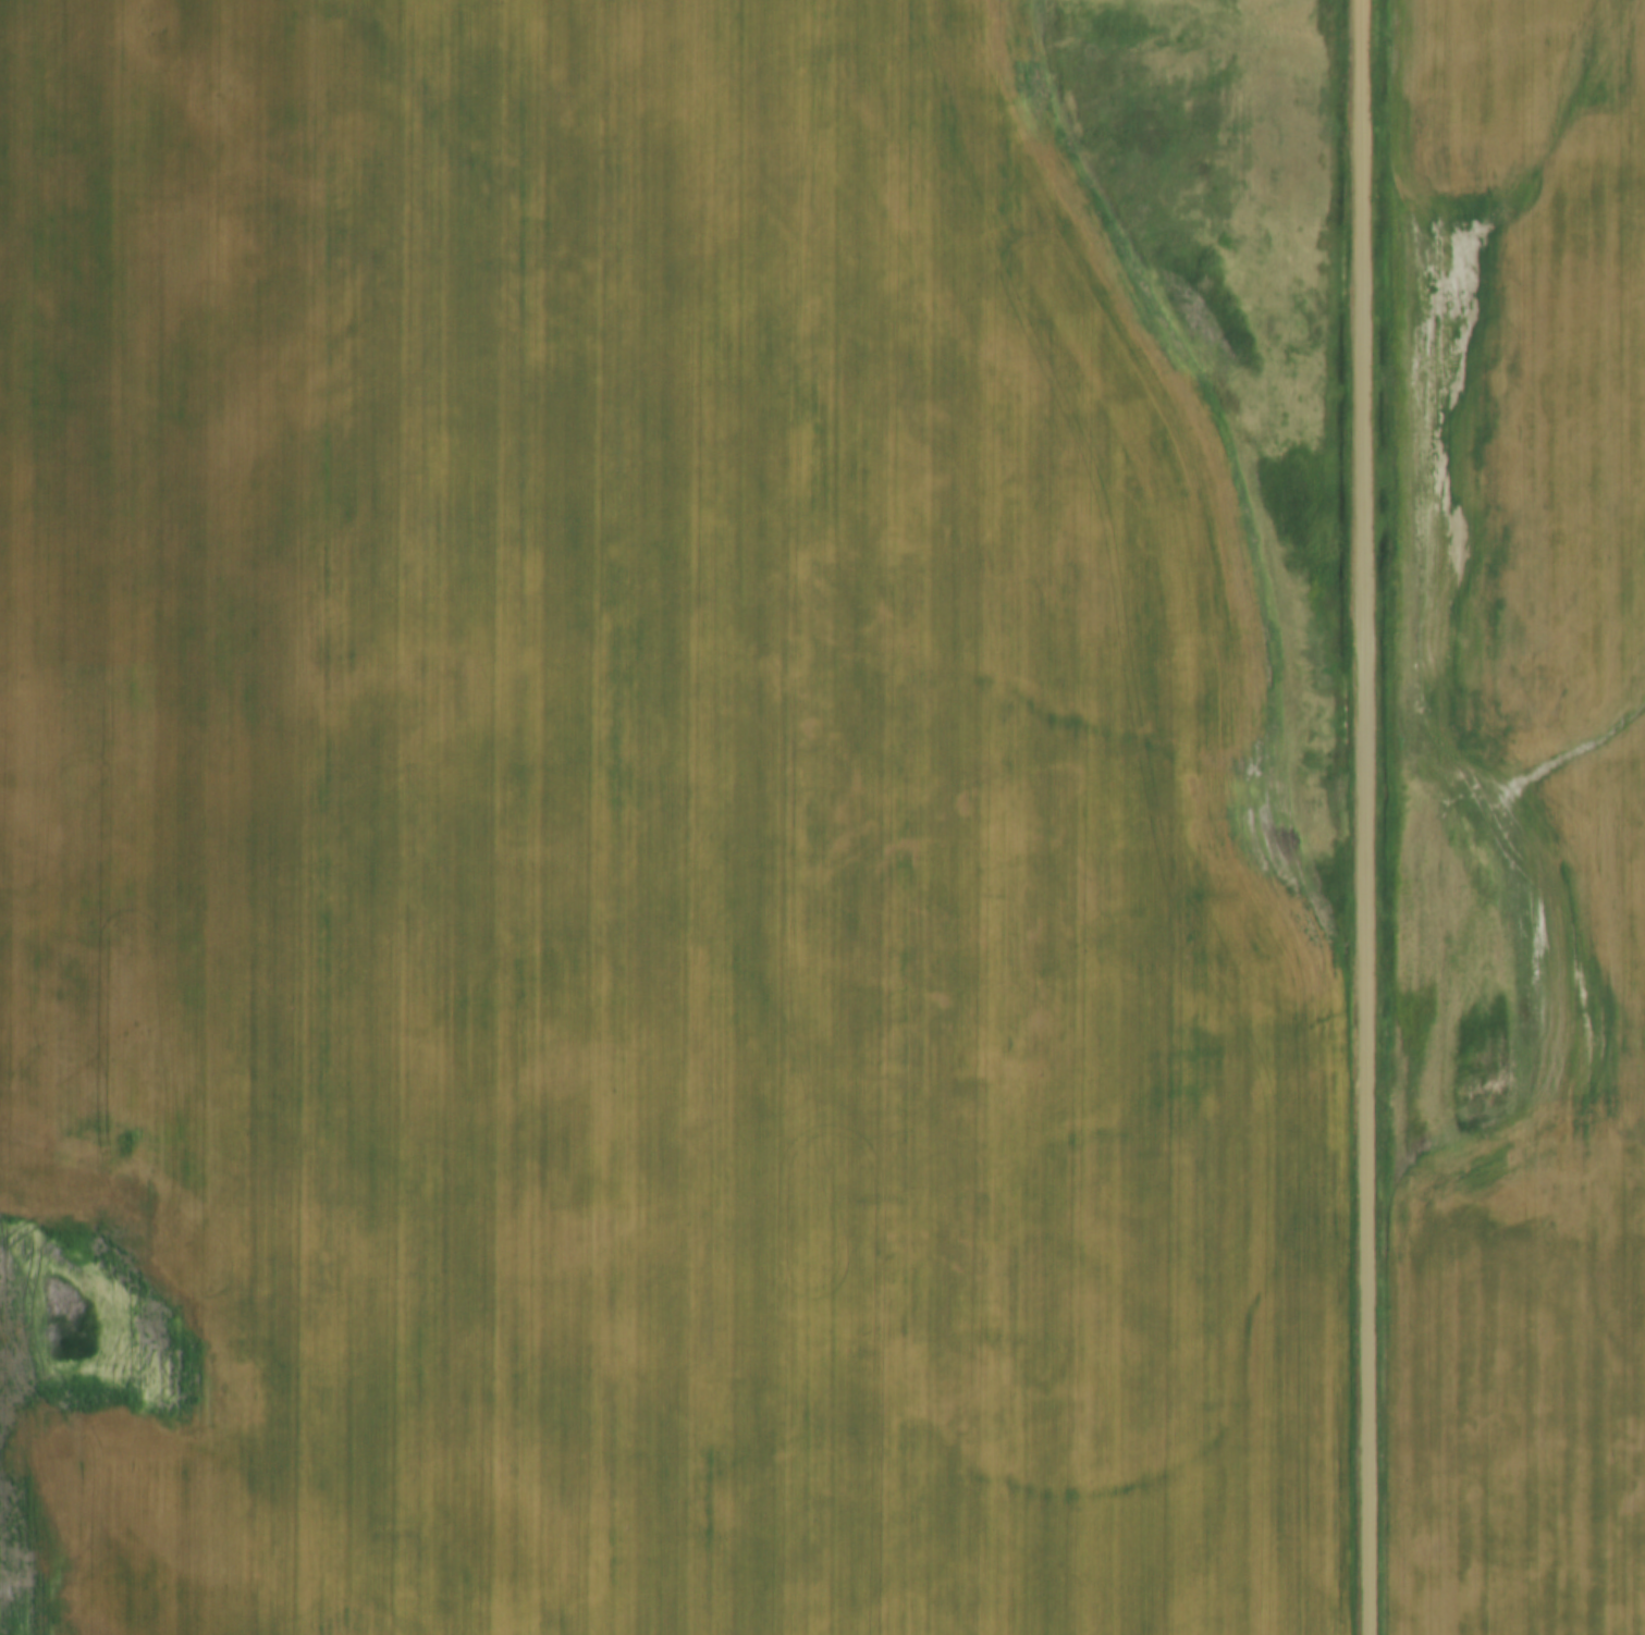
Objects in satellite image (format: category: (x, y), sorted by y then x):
road: (1361, 816)

